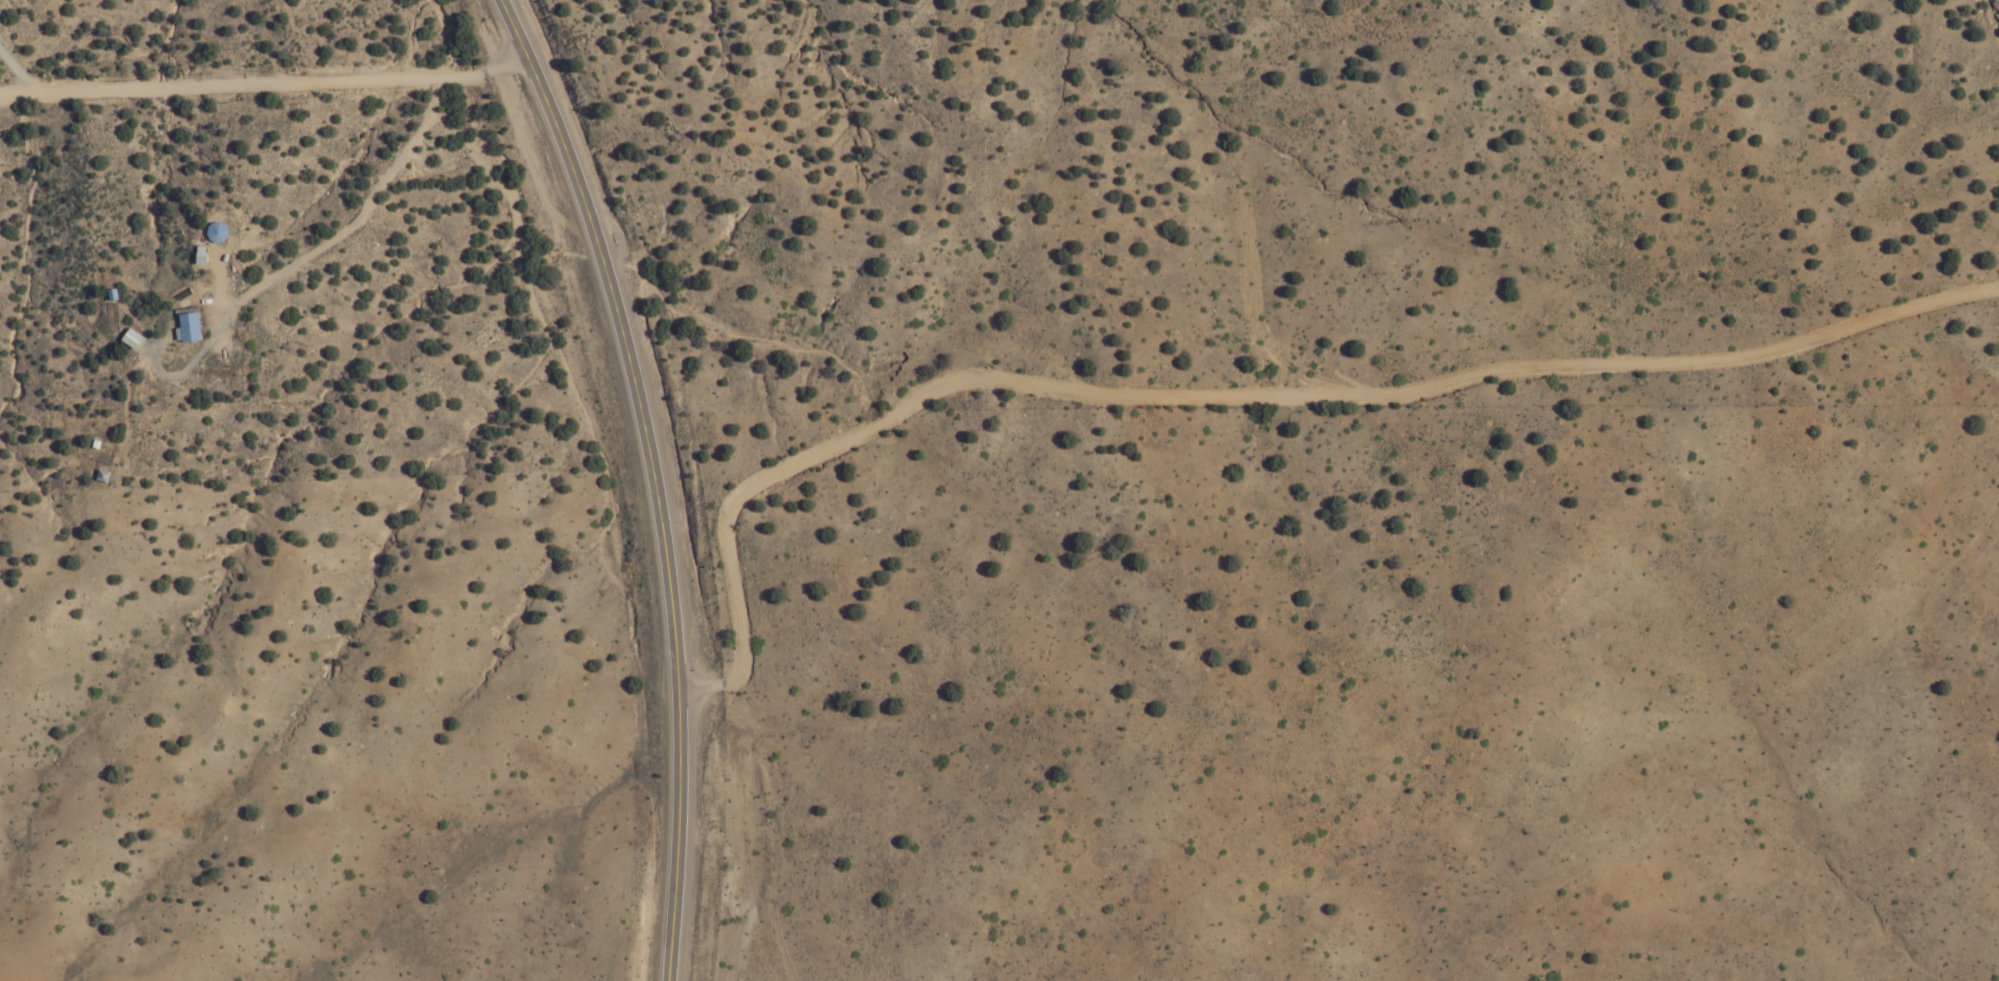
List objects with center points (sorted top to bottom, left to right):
road: (263, 84)
road: (357, 238)
road: (1234, 394)
road: (649, 478)

